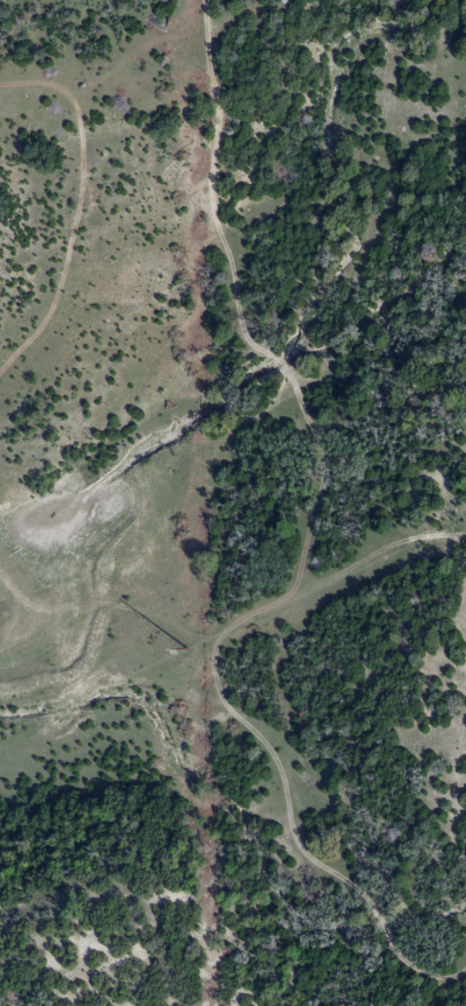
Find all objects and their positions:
power tower: (187, 647)

